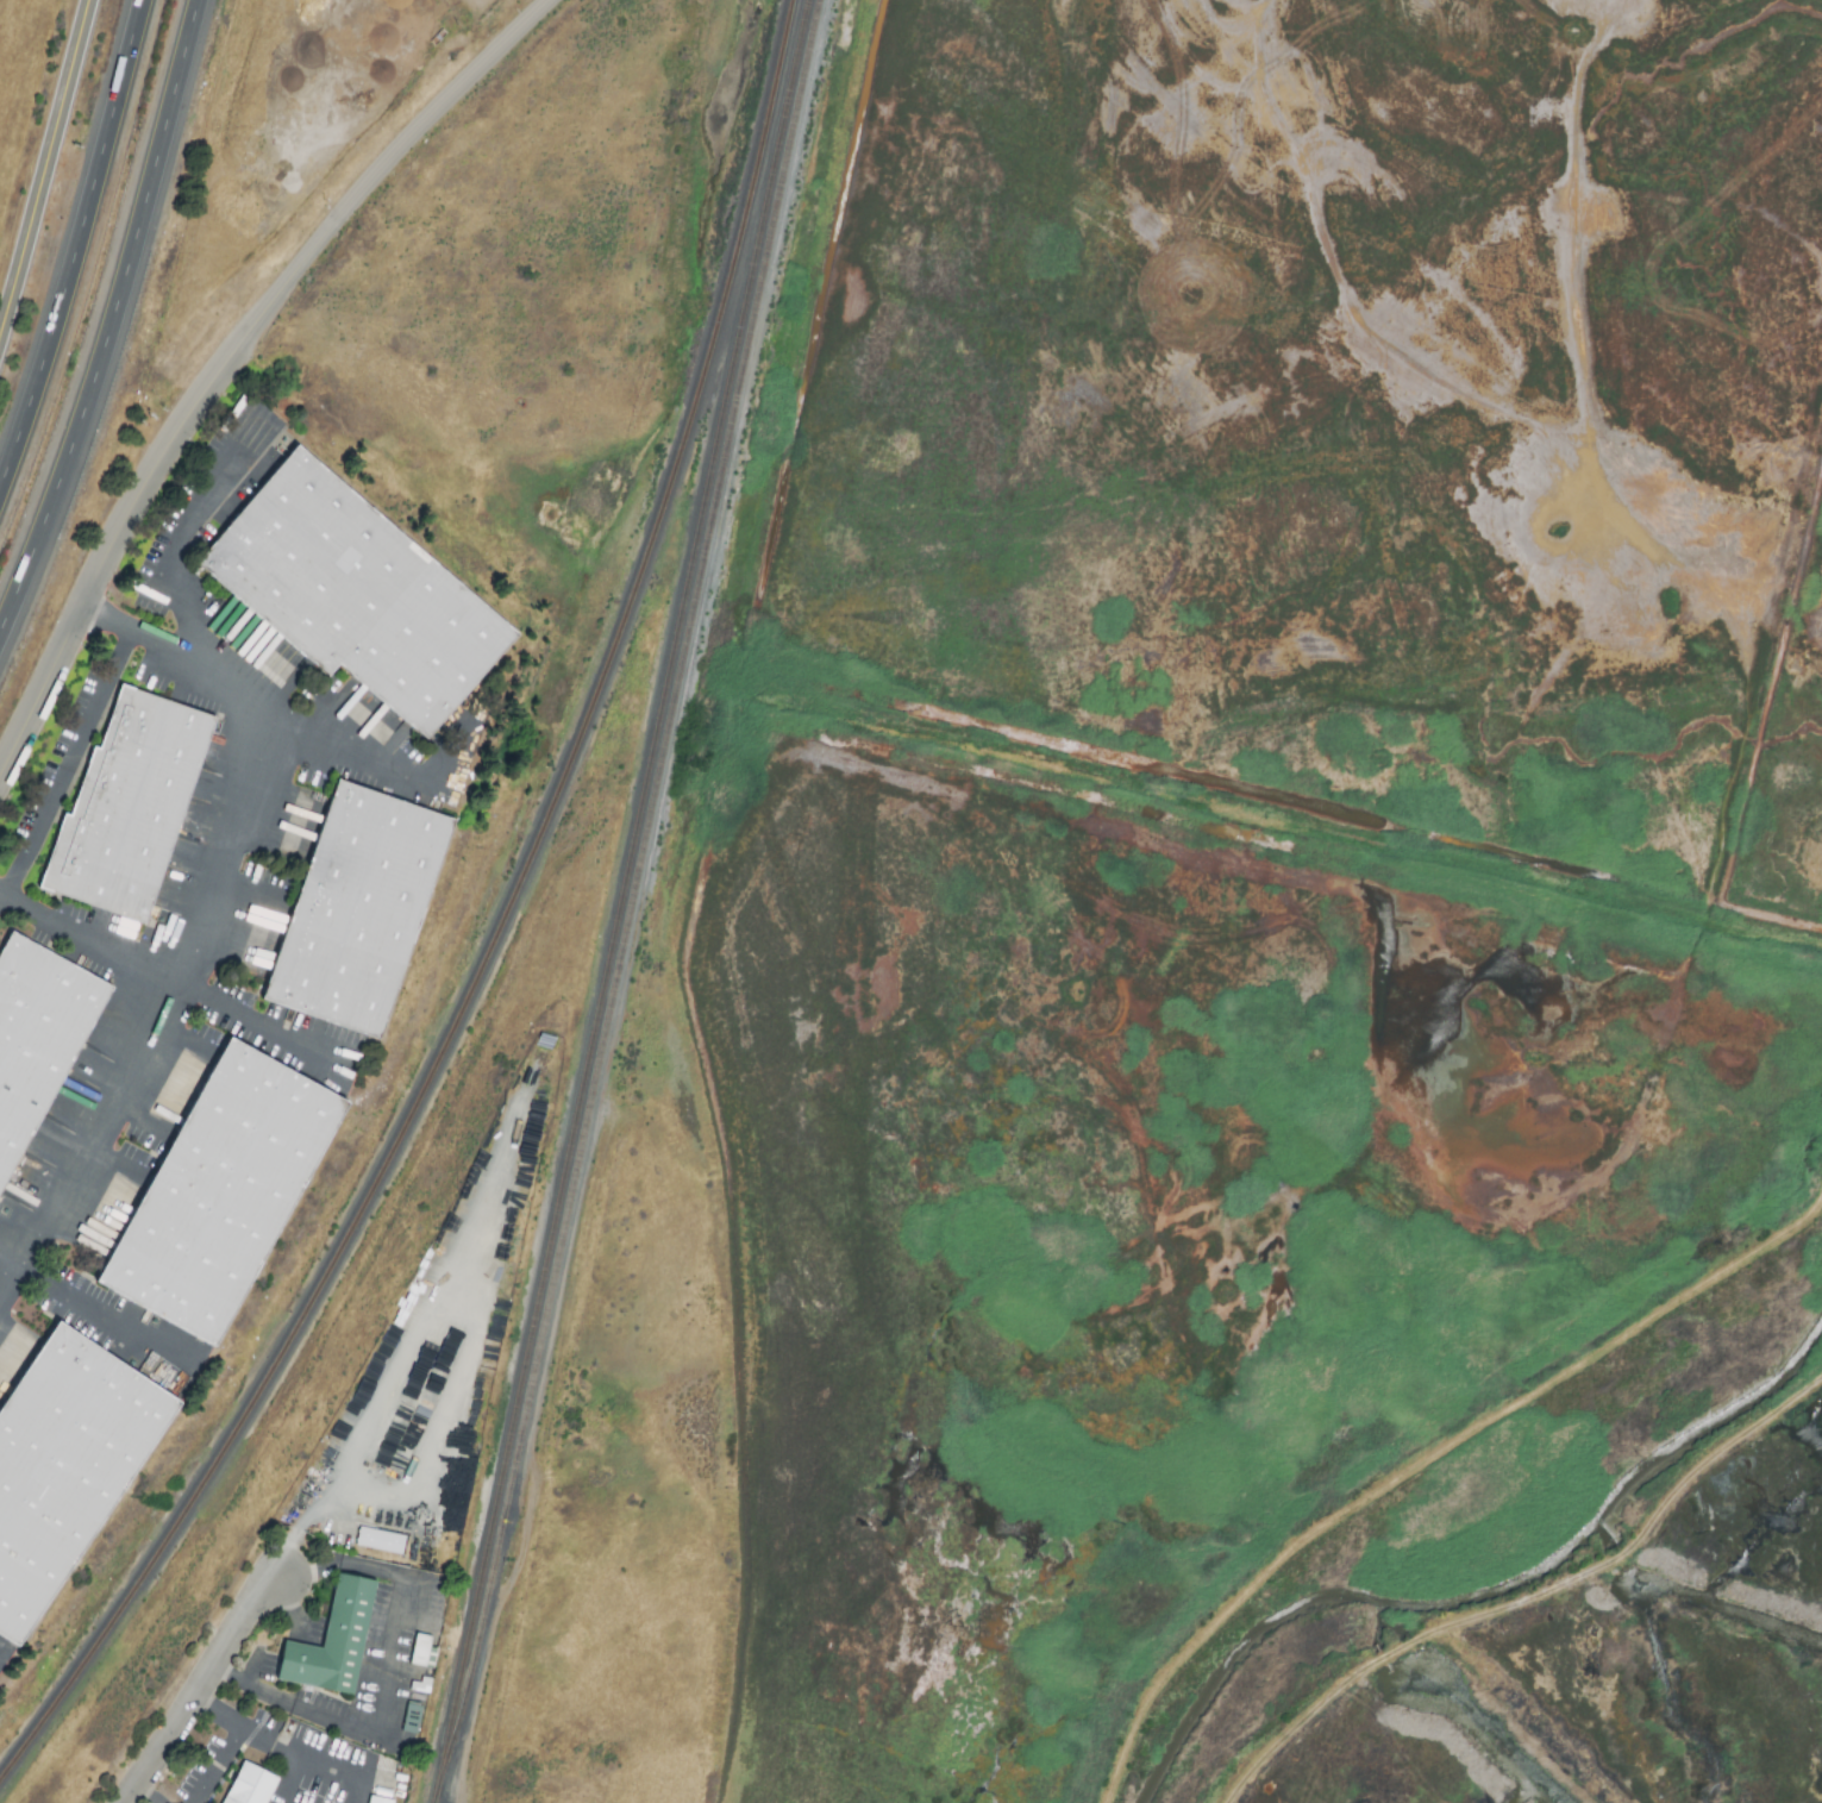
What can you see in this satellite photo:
road: (46, 171)
road: (75, 243)
road: (112, 319)
road: (234, 353)
road: (176, 556)
building: (357, 595)
road: (105, 616)
road: (278, 707)
road: (68, 764)
building: (130, 808)
railway: (640, 821)
railway: (634, 902)
building: (359, 910)
railway: (499, 937)
road: (169, 981)
road: (161, 1001)
building: (38, 1039)
building: (224, 1194)
road: (90, 1308)
road: (451, 1401)
road: (1422, 1464)
building: (65, 1469)
building: (383, 1542)
road: (1533, 1598)
building: (337, 1644)
building: (427, 1653)
road: (252, 1666)
road: (390, 1666)
road: (230, 1673)
road: (200, 1689)
building: (415, 1721)
railway: (452, 1723)
road: (227, 1740)
road: (271, 1740)
road: (344, 1772)
road: (294, 1779)
building: (255, 1786)
road: (150, 1795)
building: (381, 1801)

